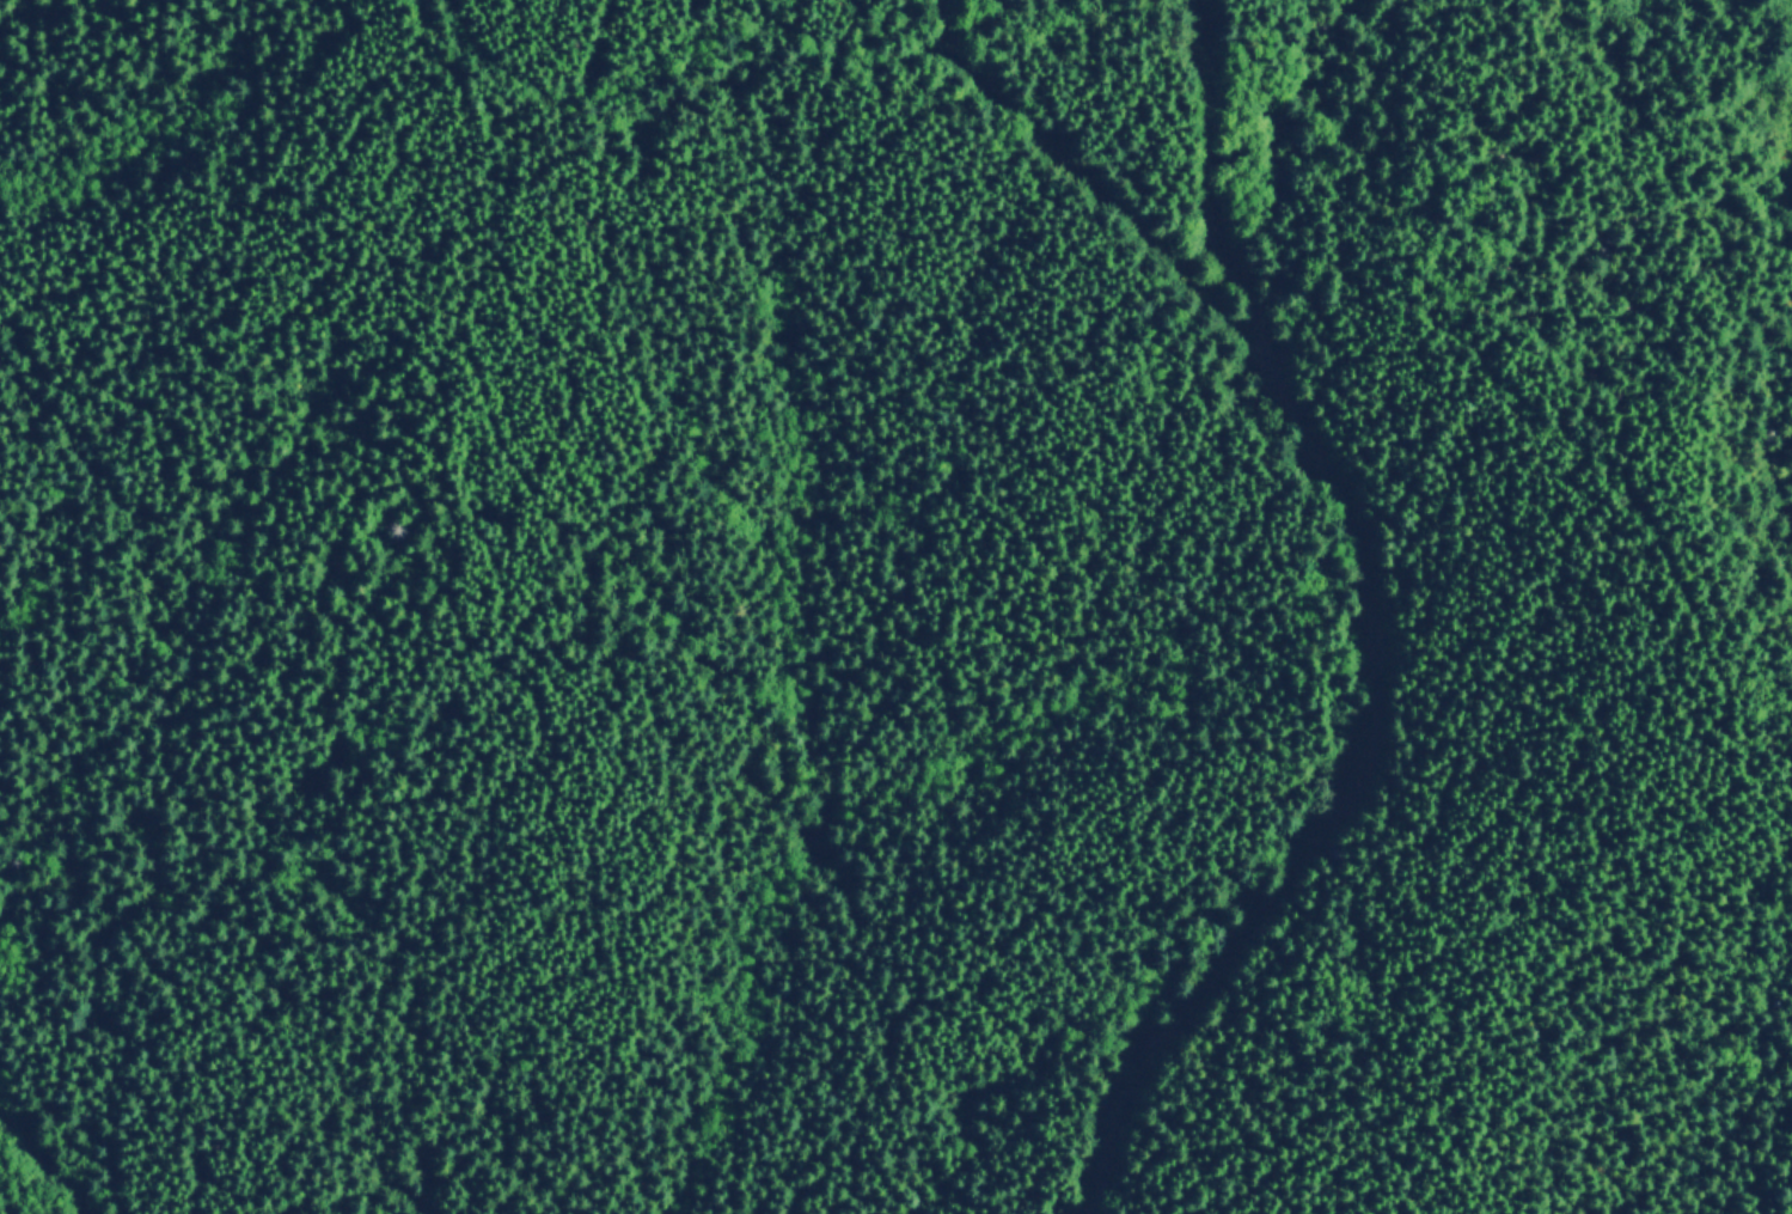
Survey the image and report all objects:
road: (1234, 120)
road: (1438, 569)
road: (65, 1149)

